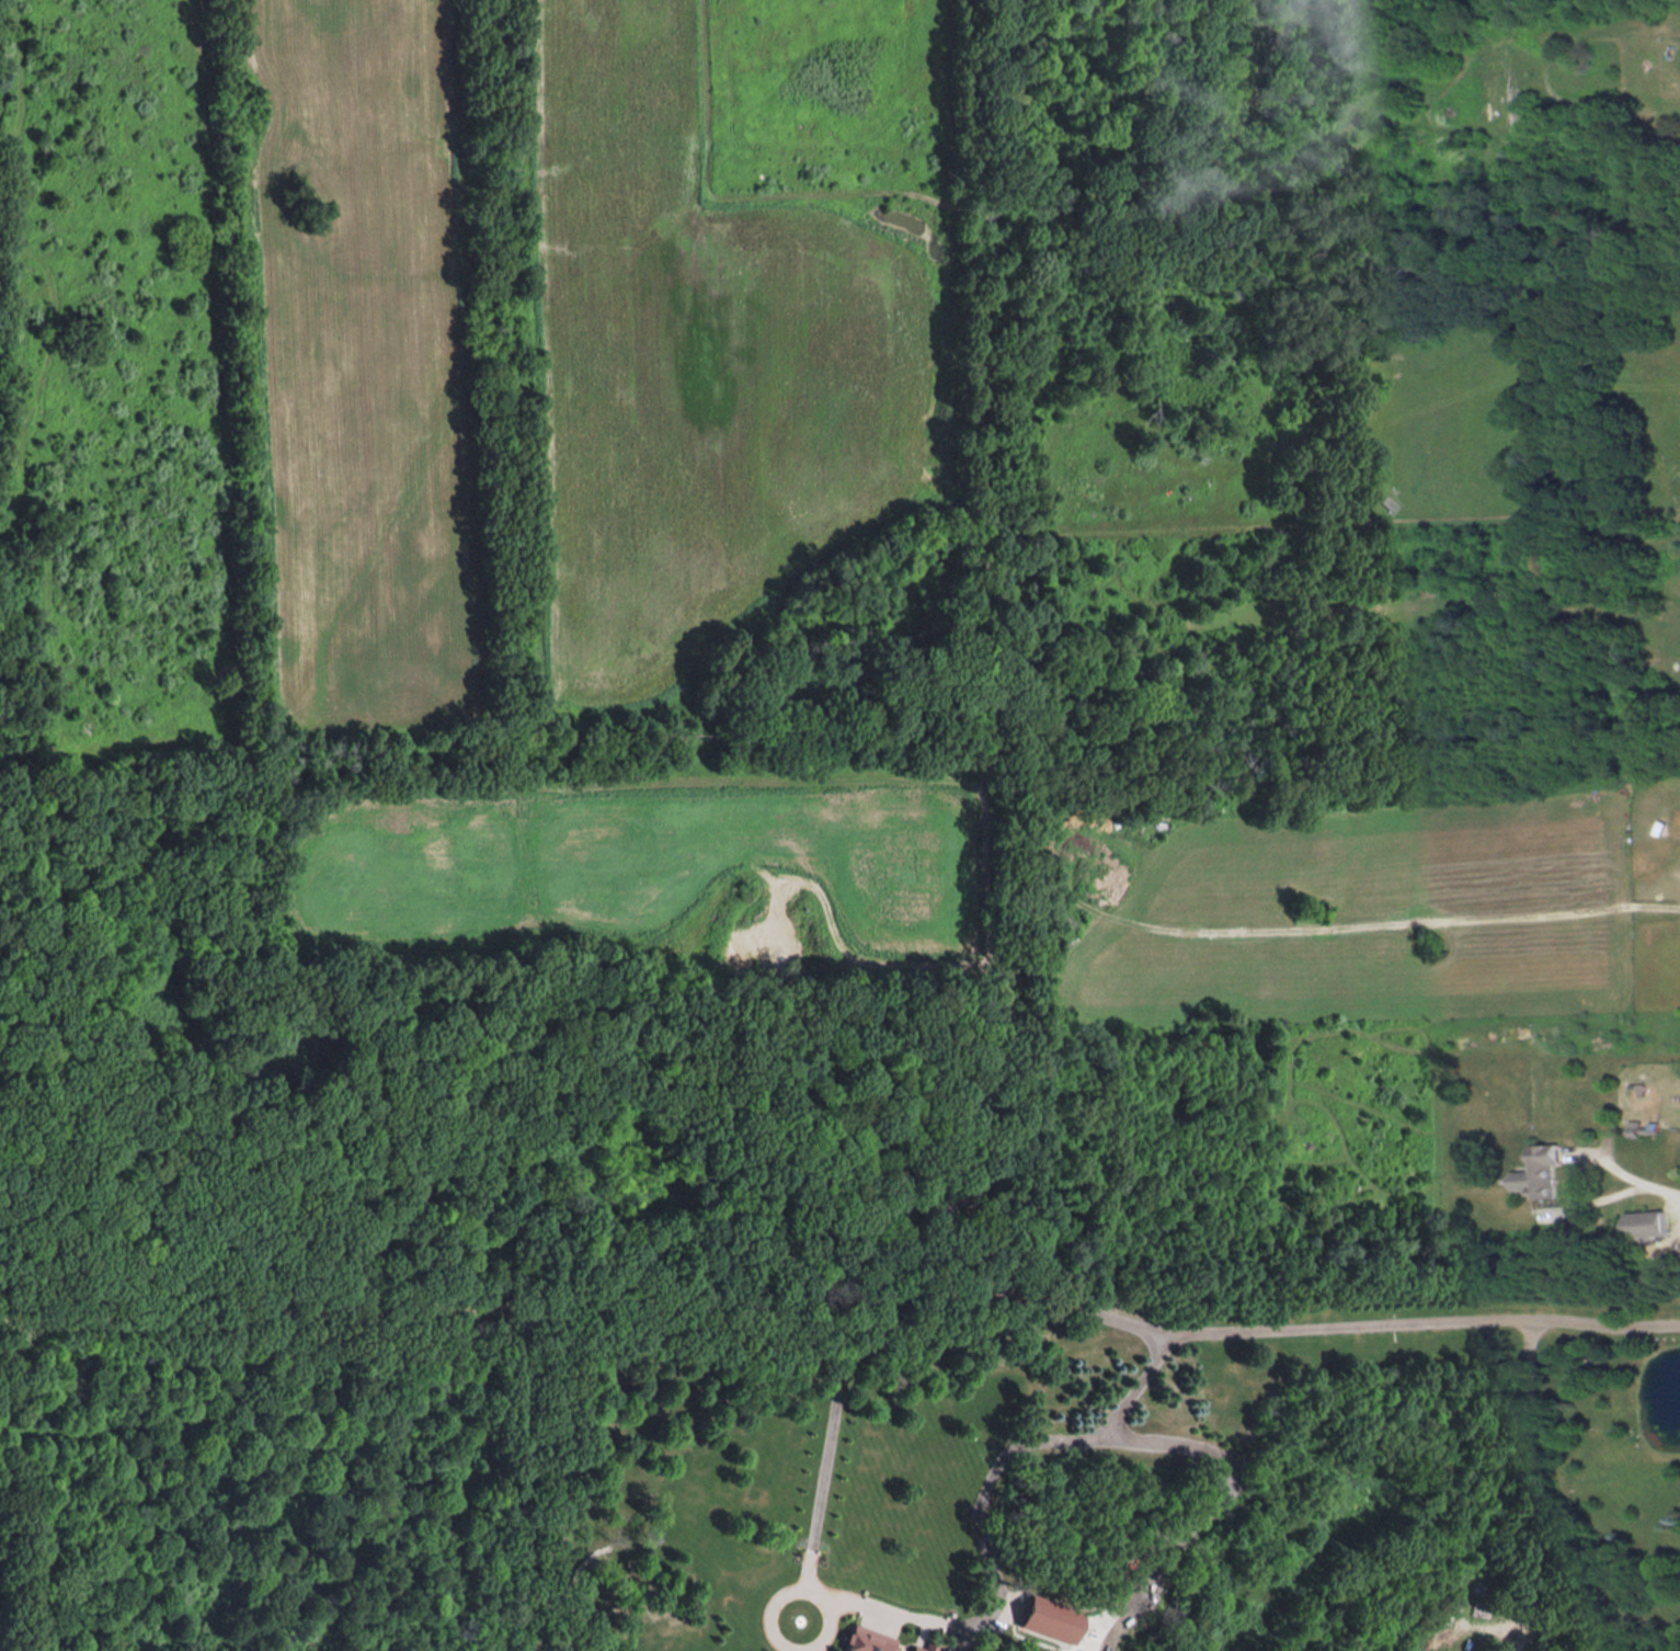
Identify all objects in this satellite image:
building: (1539, 1172)
road: (1577, 1176)
road: (1662, 1183)
building: (1646, 1223)
road: (1424, 1318)
road: (1212, 1501)
road: (801, 1603)

